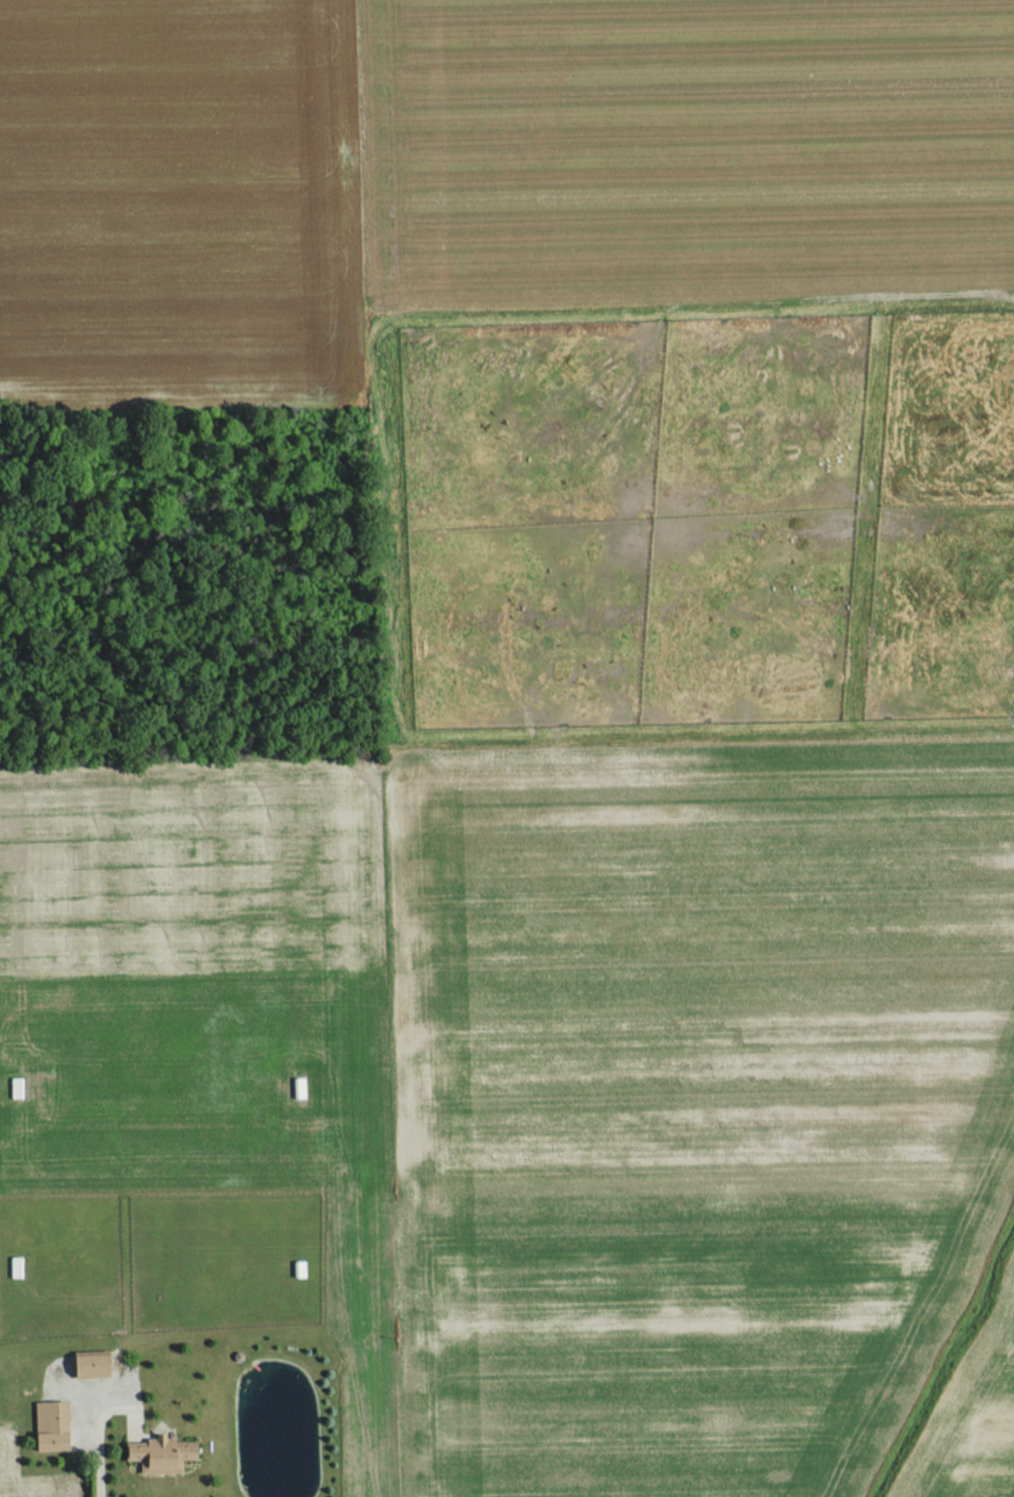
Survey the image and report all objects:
crop: (681, 157)
crop: (177, 203)
crop: (191, 871)
crop: (688, 1096)
building: (89, 1366)
crop: (972, 1408)
building: (49, 1427)
crop: (7, 1443)
road: (101, 1448)
building: (160, 1457)

